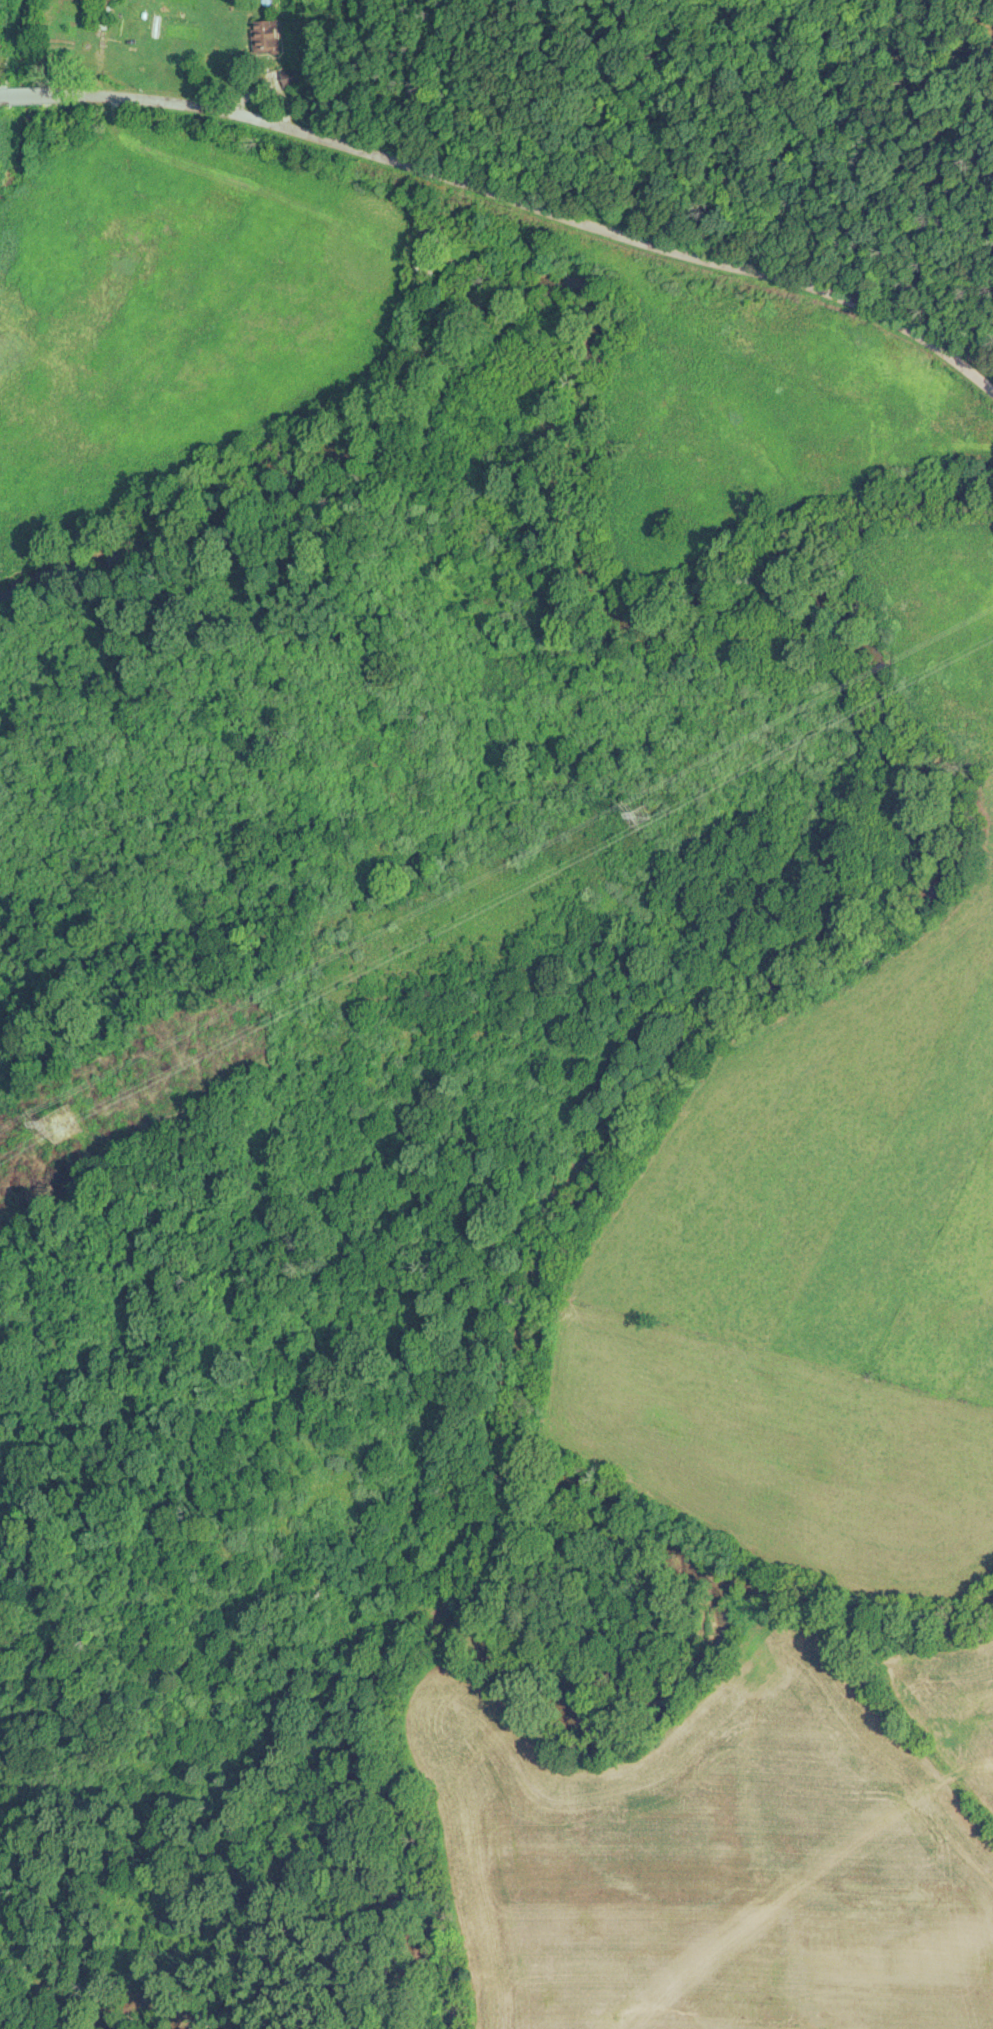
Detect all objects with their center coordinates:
building: (103, 18)
building: (267, 36)
building: (291, 77)
road: (521, 195)
power tower: (652, 814)
power tower: (73, 1125)

